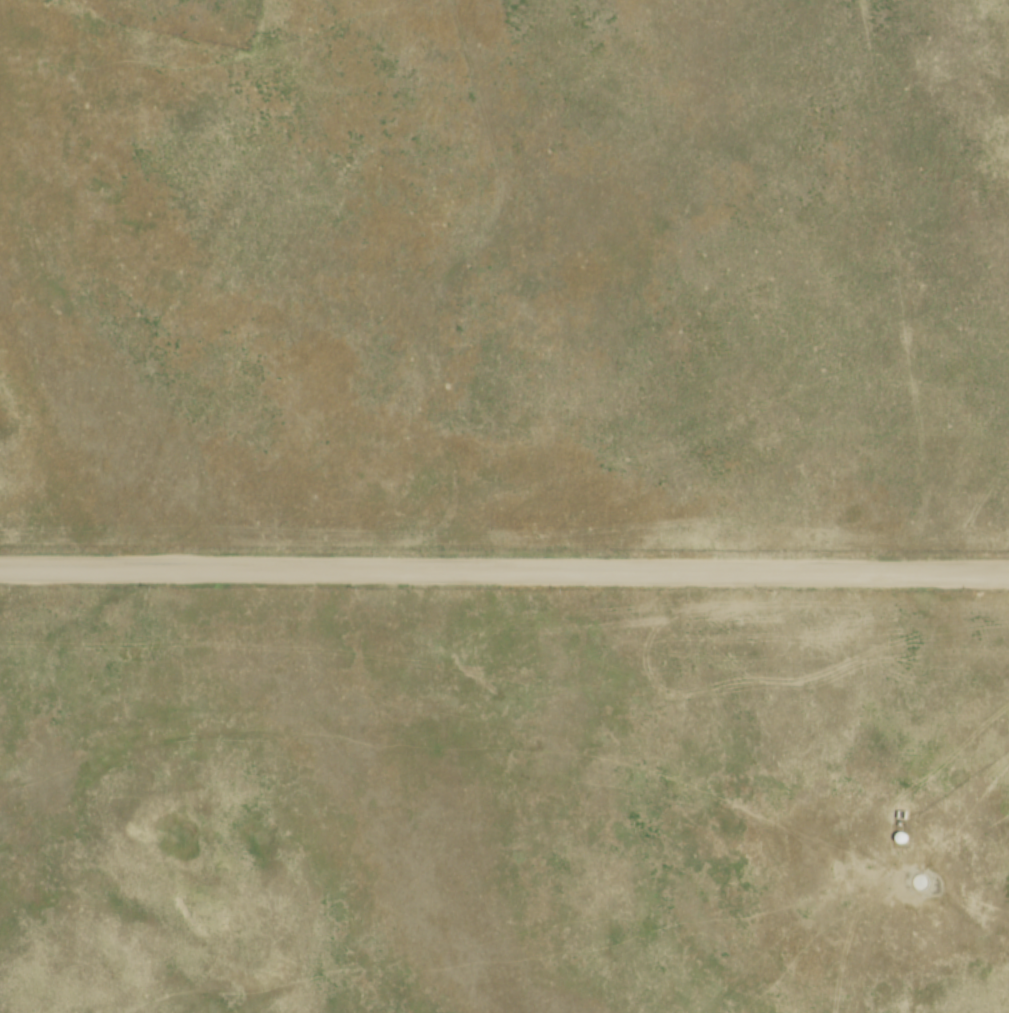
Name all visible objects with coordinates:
road: (504, 570)

